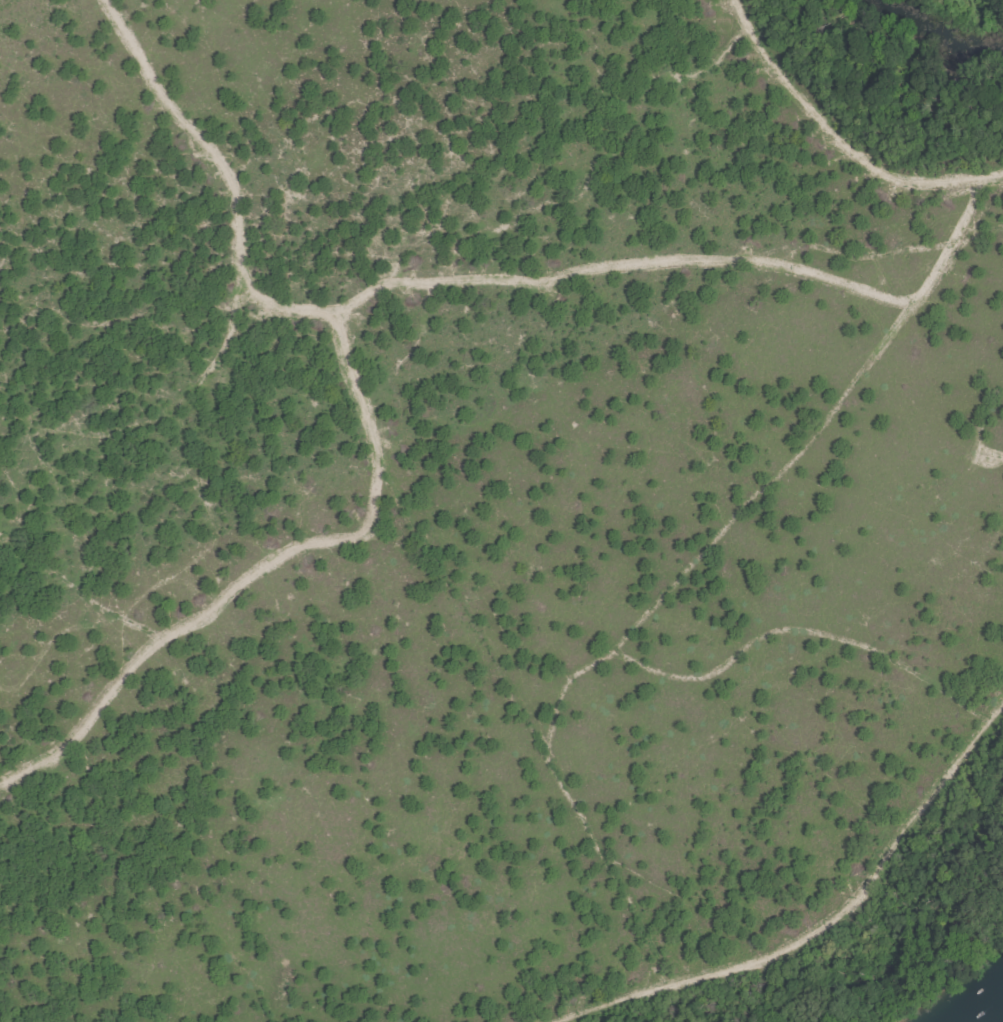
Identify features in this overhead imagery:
river: (988, 1010)

